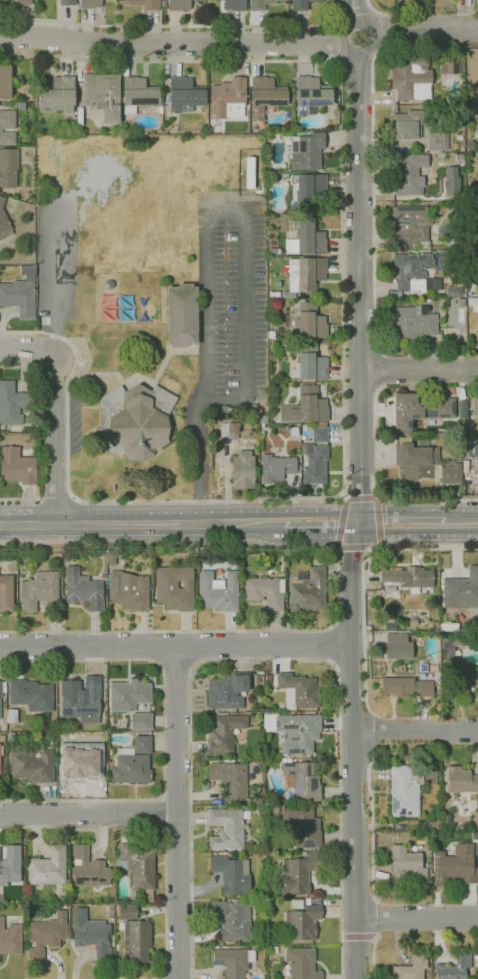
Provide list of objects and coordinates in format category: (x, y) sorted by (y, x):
building: (23, 2)
building: (67, 2)
building: (90, 4)
building: (144, 4)
building: (163, 4)
building: (261, 4)
building: (179, 5)
building: (234, 5)
building: (300, 5)
road: (371, 9)
road: (356, 10)
road: (376, 10)
road: (341, 13)
road: (356, 13)
road: (384, 14)
road: (180, 26)
road: (362, 26)
road: (384, 29)
road: (423, 29)
road: (171, 43)
road: (384, 45)
building: (453, 64)
building: (412, 79)
building: (5, 81)
building: (139, 94)
building: (312, 94)
building: (58, 95)
building: (102, 95)
building: (185, 95)
building: (266, 97)
building: (228, 99)
building: (407, 125)
building: (7, 127)
building: (436, 142)
building: (470, 145)
building: (455, 147)
building: (306, 150)
building: (8, 168)
building: (409, 174)
building: (452, 179)
building: (308, 192)
road: (374, 194)
building: (4, 223)
building: (411, 227)
building: (453, 232)
road: (206, 238)
building: (306, 238)
building: (443, 253)
building: (477, 268)
building: (412, 272)
building: (305, 275)
road: (55, 277)
building: (468, 286)
building: (454, 292)
building: (20, 293)
building: (274, 294)
building: (182, 315)
building: (309, 321)
building: (413, 324)
building: (271, 335)
road: (29, 349)
road: (342, 360)
building: (310, 364)
road: (386, 370)
road: (419, 370)
building: (12, 404)
building: (475, 404)
building: (305, 406)
building: (419, 410)
road: (376, 418)
building: (263, 420)
building: (136, 421)
building: (472, 422)
building: (229, 431)
building: (319, 432)
road: (36, 434)
road: (54, 440)
building: (473, 450)
building: (314, 463)
building: (426, 464)
building: (476, 466)
building: (17, 467)
building: (276, 468)
building: (243, 471)
road: (344, 496)
road: (377, 497)
road: (55, 498)
road: (361, 499)
road: (407, 500)
road: (358, 516)
road: (341, 523)
road: (377, 523)
road: (401, 523)
road: (461, 523)
road: (320, 524)
road: (141, 525)
road: (352, 548)
road: (368, 549)
road: (336, 550)
building: (14, 555)
building: (55, 557)
building: (111, 559)
building: (216, 559)
building: (408, 578)
building: (175, 588)
road: (338, 588)
building: (38, 590)
building: (82, 590)
building: (462, 590)
building: (129, 591)
building: (219, 591)
building: (265, 592)
building: (309, 592)
building: (6, 593)
building: (390, 618)
building: (412, 622)
building: (435, 626)
building: (449, 627)
road: (364, 629)
road: (332, 644)
building: (397, 646)
building: (451, 646)
road: (175, 649)
road: (264, 660)
road: (176, 671)
building: (268, 678)
building: (459, 682)
building: (406, 687)
building: (1, 689)
building: (228, 690)
building: (298, 690)
building: (31, 695)
building: (129, 695)
building: (82, 699)
building: (0, 701)
building: (11, 716)
building: (141, 721)
road: (415, 729)
road: (164, 731)
building: (294, 731)
road: (373, 733)
building: (224, 734)
building: (10, 737)
building: (1, 738)
building: (143, 745)
building: (1, 750)
building: (79, 760)
building: (31, 766)
building: (130, 768)
building: (434, 776)
building: (230, 779)
building: (303, 779)
building: (461, 780)
building: (405, 790)
road: (176, 794)
building: (277, 809)
road: (159, 812)
road: (89, 813)
road: (179, 814)
building: (446, 818)
road: (372, 825)
building: (429, 825)
building: (304, 827)
road: (156, 828)
building: (227, 828)
building: (475, 835)
building: (409, 863)
building: (137, 864)
building: (10, 865)
building: (454, 865)
building: (48, 868)
building: (89, 869)
building: (298, 873)
building: (232, 875)
building: (1, 899)
building: (234, 900)
building: (297, 904)
building: (124, 912)
road: (417, 918)
road: (374, 919)
building: (232, 920)
building: (303, 921)
building: (92, 935)
building: (46, 936)
road: (358, 937)
building: (10, 939)
building: (136, 941)
building: (274, 949)
road: (375, 960)
building: (232, 961)
building: (476, 961)
building: (302, 963)
building: (411, 967)
building: (454, 967)

